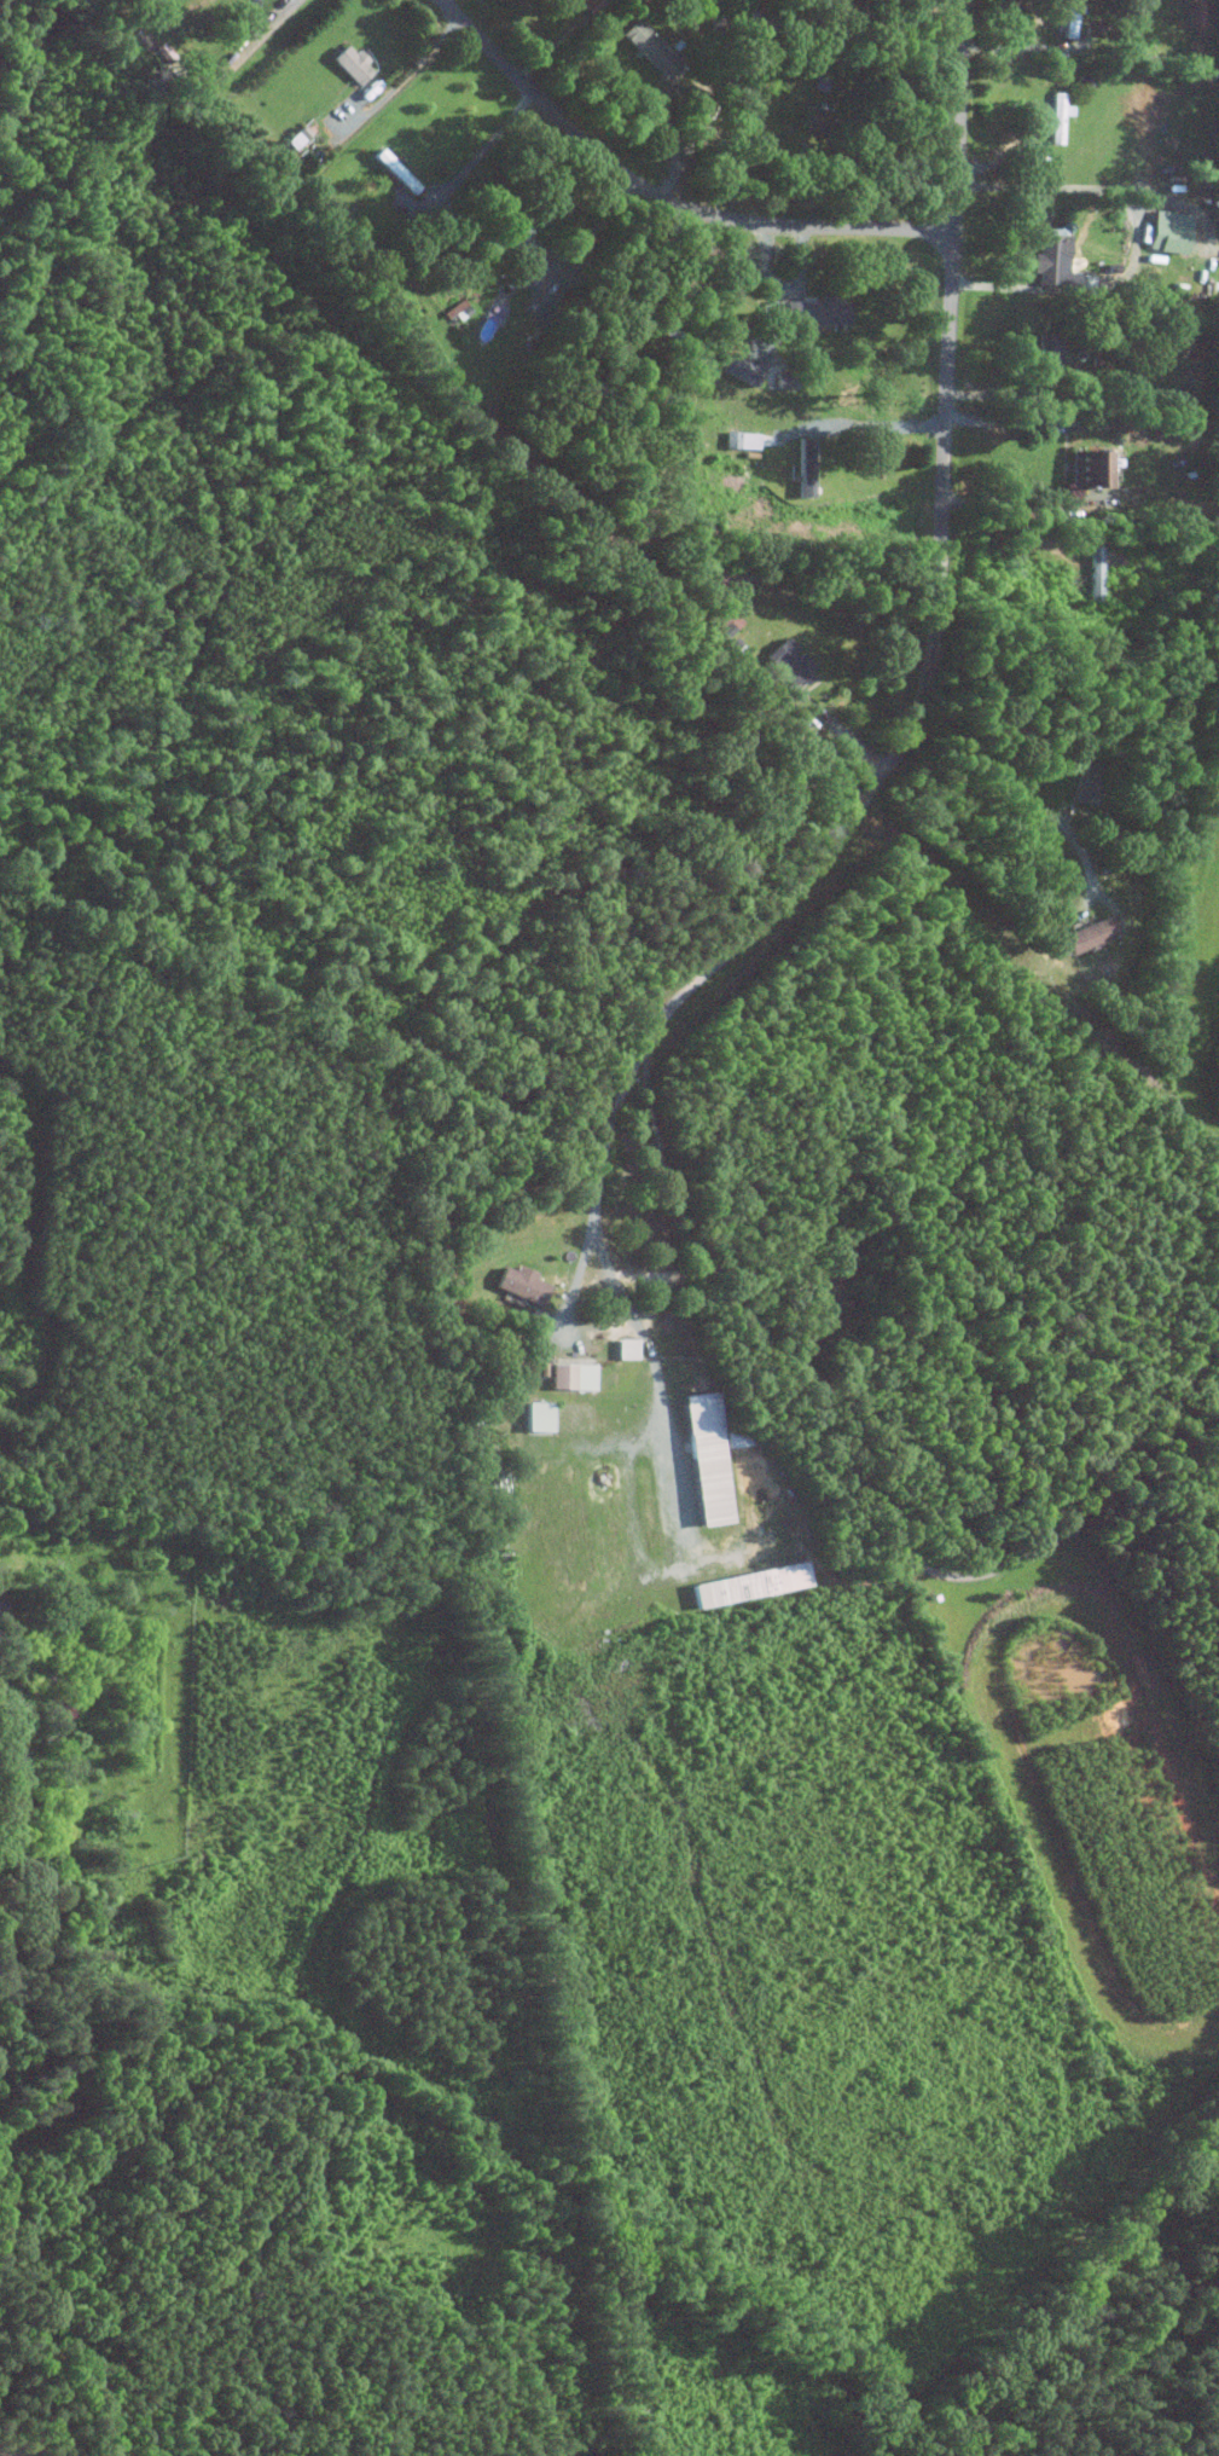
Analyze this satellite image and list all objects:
building: (585, 2)
road: (904, 37)
building: (649, 46)
road: (242, 47)
road: (1031, 47)
building: (353, 64)
road: (406, 76)
building: (815, 116)
building: (1060, 116)
building: (298, 137)
road: (481, 151)
road: (661, 197)
building: (1171, 231)
road: (592, 234)
road: (1137, 244)
building: (1050, 257)
building: (818, 312)
building: (1051, 351)
building: (743, 370)
road: (1011, 421)
building: (807, 467)
building: (1092, 469)
road: (1011, 505)
road: (939, 584)
building: (790, 662)
building: (1090, 786)
road: (1005, 792)
building: (1091, 934)
road: (596, 1201)
building: (519, 1284)
road: (567, 1301)
building: (625, 1348)
building: (571, 1375)
building: (538, 1415)
building: (706, 1459)
road: (857, 1459)
road: (681, 1558)
building: (750, 1585)

